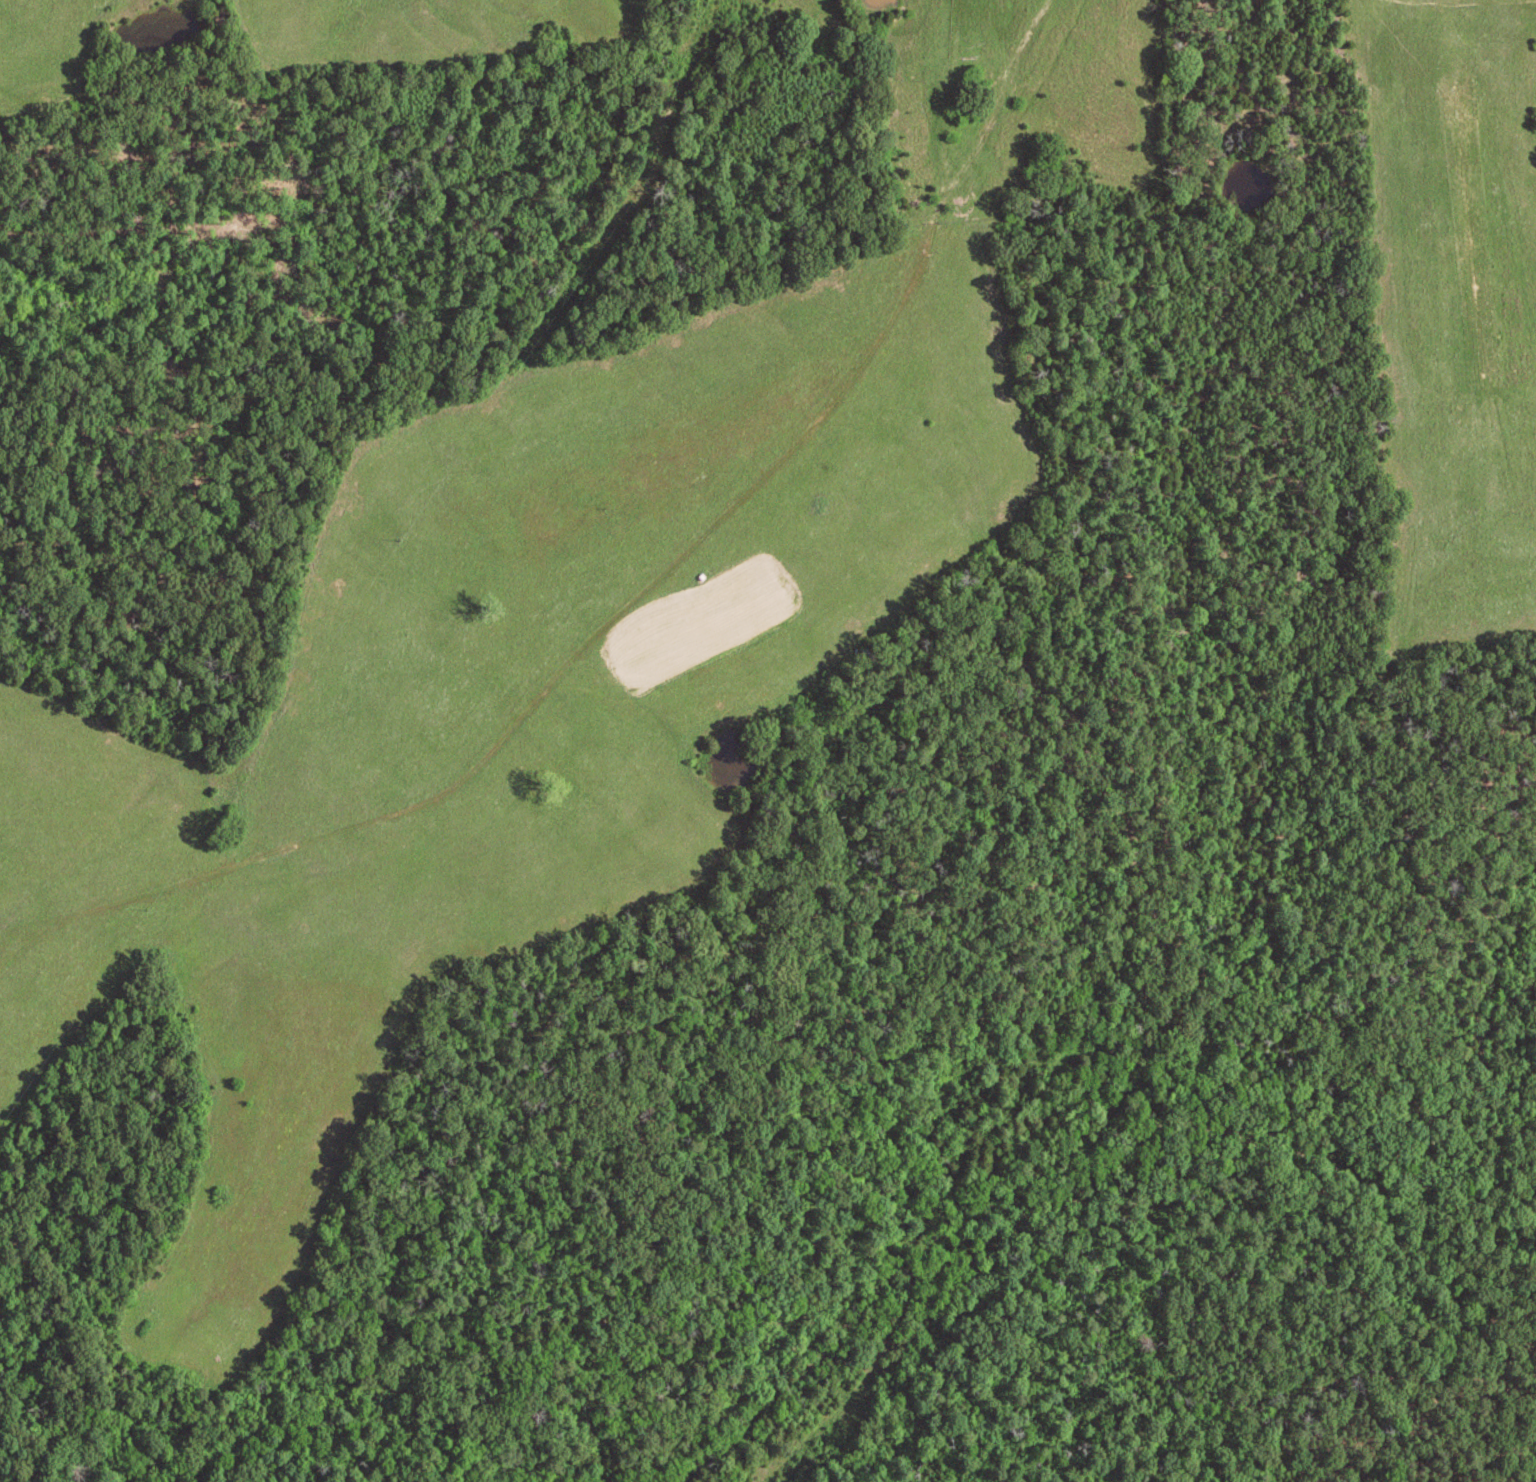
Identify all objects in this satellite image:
road: (628, 606)

